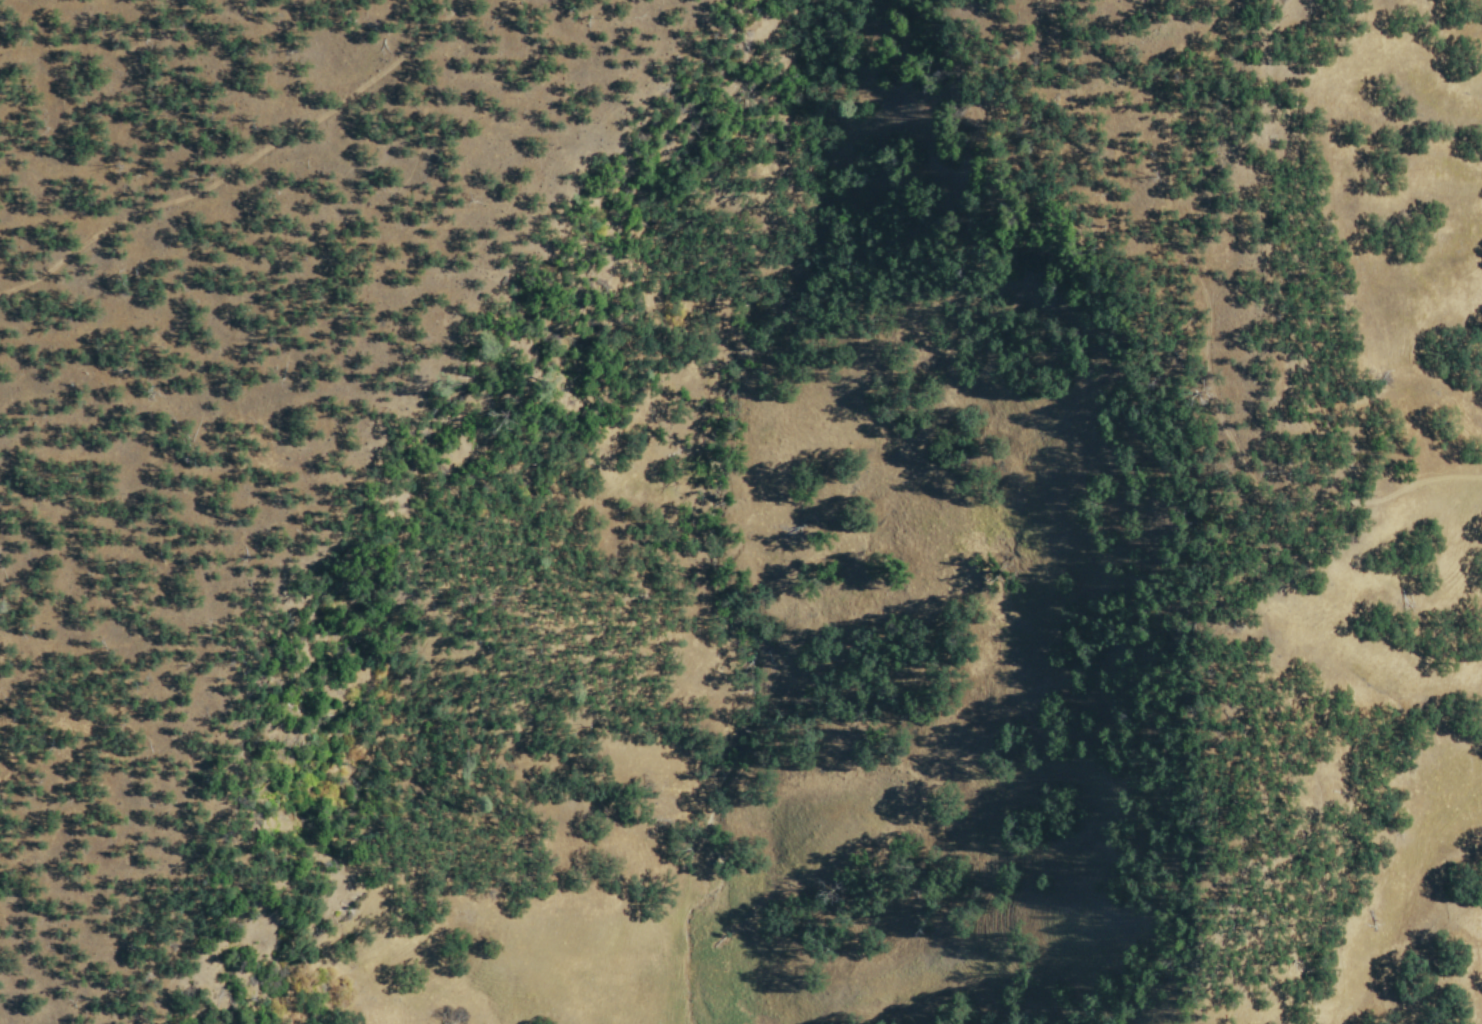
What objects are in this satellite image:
road: (240, 164)

